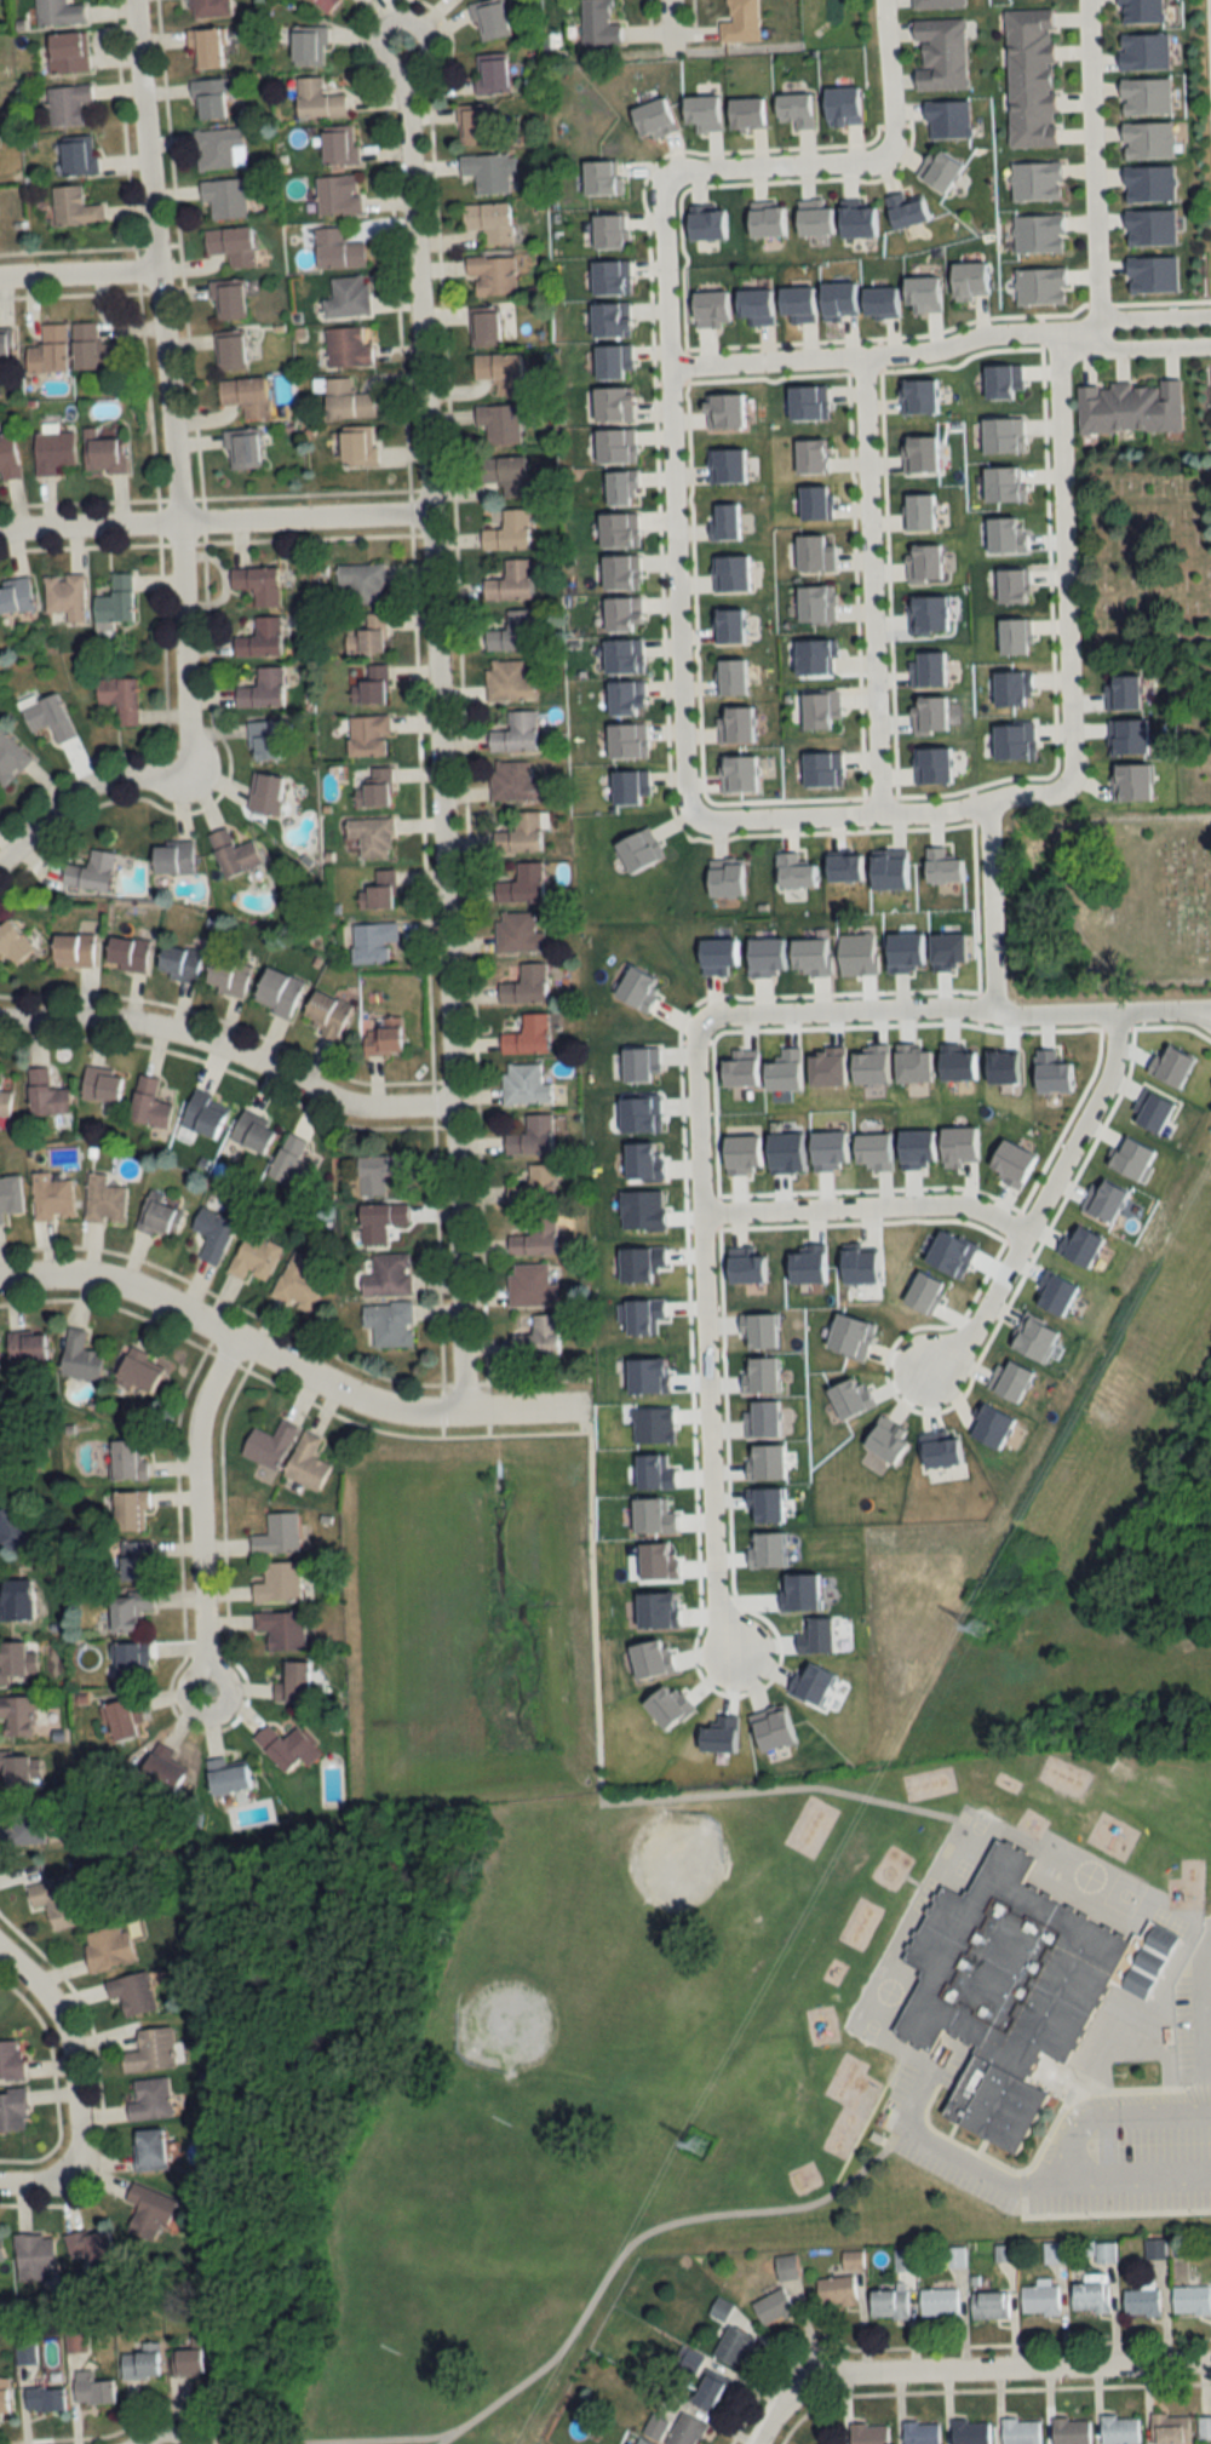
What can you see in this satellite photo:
building: (939, 4)
building: (325, 5)
building: (206, 8)
building: (56, 13)
building: (489, 21)
road: (679, 22)
building: (740, 22)
building: (597, 24)
building: (308, 46)
building: (203, 48)
building: (67, 53)
building: (940, 53)
road: (1209, 53)
building: (490, 74)
road: (890, 78)
building: (1029, 78)
building: (1146, 97)
building: (210, 98)
building: (316, 99)
building: (840, 101)
building: (65, 104)
building: (701, 109)
building: (748, 110)
building: (794, 110)
building: (654, 115)
building: (472, 124)
building: (1147, 139)
building: (338, 144)
building: (219, 149)
building: (78, 156)
road: (1094, 165)
road: (773, 168)
building: (488, 170)
building: (939, 170)
building: (603, 174)
building: (338, 194)
building: (224, 197)
building: (71, 206)
building: (905, 207)
building: (854, 216)
building: (764, 217)
building: (814, 218)
building: (489, 219)
building: (704, 222)
building: (608, 229)
building: (230, 245)
building: (337, 248)
road: (74, 272)
building: (490, 274)
building: (610, 275)
building: (970, 276)
building: (1038, 282)
building: (924, 289)
building: (836, 294)
building: (348, 297)
building: (877, 297)
building: (793, 298)
building: (226, 300)
building: (750, 300)
building: (707, 304)
building: (612, 316)
building: (483, 326)
building: (5, 343)
building: (348, 346)
building: (90, 348)
road: (940, 348)
building: (48, 349)
building: (229, 351)
building: (609, 358)
building: (499, 371)
building: (997, 378)
road: (162, 384)
building: (918, 391)
building: (245, 394)
building: (345, 398)
building: (805, 398)
building: (612, 401)
building: (1129, 406)
building: (728, 409)
building: (500, 421)
building: (1003, 432)
building: (614, 440)
building: (357, 446)
building: (242, 448)
building: (52, 451)
building: (103, 451)
building: (809, 452)
building: (918, 452)
building: (7, 455)
building: (729, 463)
building: (505, 472)
building: (619, 482)
building: (1000, 484)
building: (813, 499)
road: (673, 507)
building: (917, 507)
building: (727, 518)
road: (212, 522)
building: (619, 527)
building: (509, 530)
building: (815, 550)
road: (1062, 555)
building: (924, 560)
park: (1147, 561)
building: (620, 568)
building: (729, 568)
building: (510, 580)
building: (1009, 581)
building: (362, 583)
building: (257, 584)
road: (871, 584)
building: (15, 595)
building: (65, 596)
building: (115, 599)
building: (815, 602)
building: (620, 609)
building: (926, 612)
building: (728, 623)
building: (512, 631)
building: (366, 632)
building: (1012, 635)
building: (260, 638)
building: (622, 653)
building: (811, 655)
building: (928, 666)
building: (731, 676)
building: (507, 681)
building: (371, 685)
building: (1008, 685)
building: (263, 688)
building: (1120, 692)
building: (622, 694)
building: (119, 696)
building: (820, 707)
building: (930, 712)
building: (46, 715)
building: (736, 722)
road: (434, 724)
building: (515, 732)
building: (1125, 734)
building: (367, 735)
building: (626, 738)
building: (1012, 738)
building: (264, 739)
building: (10, 757)
building: (929, 762)
building: (820, 767)
building: (739, 771)
building: (1126, 778)
building: (511, 780)
building: (627, 784)
building: (372, 786)
road: (75, 788)
building: (265, 792)
road: (893, 811)
building: (520, 833)
building: (371, 836)
building: (638, 847)
building: (233, 853)
building: (172, 856)
building: (945, 864)
building: (840, 865)
building: (884, 865)
building: (792, 866)
building: (90, 871)
building: (723, 874)
building: (521, 884)
building: (378, 888)
park: (1114, 900)
road: (988, 920)
building: (517, 933)
building: (371, 941)
building: (12, 942)
building: (900, 947)
building: (711, 948)
building: (805, 948)
building: (71, 950)
building: (759, 952)
building: (126, 953)
building: (177, 962)
building: (226, 976)
building: (635, 982)
building: (522, 983)
building: (276, 991)
road: (848, 1009)
road: (1115, 1011)
building: (323, 1012)
building: (527, 1035)
building: (383, 1037)
road: (229, 1045)
building: (639, 1060)
building: (737, 1065)
building: (1049, 1069)
building: (101, 1084)
building: (523, 1084)
building: (45, 1094)
building: (5, 1102)
building: (148, 1102)
building: (1157, 1109)
building: (638, 1111)
building: (201, 1113)
road: (694, 1114)
building: (252, 1131)
building: (530, 1136)
building: (954, 1140)
building: (1130, 1154)
building: (1009, 1158)
building: (289, 1163)
building: (377, 1172)
building: (533, 1187)
building: (10, 1195)
building: (51, 1197)
building: (1104, 1197)
building: (103, 1199)
road: (1037, 1203)
road: (862, 1207)
building: (157, 1216)
building: (380, 1221)
building: (212, 1234)
building: (534, 1237)
building: (1078, 1240)
building: (945, 1246)
building: (254, 1257)
building: (855, 1263)
building: (803, 1264)
building: (742, 1267)
building: (389, 1275)
building: (298, 1283)
building: (530, 1285)
building: (918, 1290)
building: (1055, 1290)
building: (389, 1323)
building: (761, 1329)
building: (849, 1331)
building: (1032, 1335)
building: (536, 1336)
building: (27, 1346)
building: (79, 1355)
road: (287, 1358)
building: (136, 1369)
building: (1011, 1379)
building: (851, 1396)
building: (763, 1416)
building: (992, 1419)
road: (707, 1434)
building: (884, 1438)
building: (269, 1445)
building: (937, 1448)
building: (127, 1458)
building: (306, 1463)
road: (197, 1509)
building: (130, 1510)
building: (11, 1528)
building: (277, 1534)
building: (134, 1561)
building: (277, 1583)
building: (15, 1600)
building: (127, 1610)
power tower: (978, 1627)
building: (280, 1630)
building: (15, 1660)
building: (130, 1663)
building: (811, 1680)
building: (289, 1681)
building: (17, 1716)
building: (121, 1719)
building: (771, 1725)
building: (285, 1746)
building: (162, 1768)
building: (15, 1771)
building: (226, 1775)
road: (598, 1791)
building: (21, 1824)
building: (57, 1901)
building: (105, 1947)
building: (1014, 1986)
building: (131, 1993)
road: (1201, 2019)
road: (1137, 2032)
road: (70, 2039)
building: (149, 2052)
building: (10, 2060)
building: (149, 2100)
building: (12, 2110)
power tower: (698, 2145)
road: (948, 2148)
road: (1071, 2148)
building: (148, 2151)
road: (38, 2179)
building: (149, 2209)
road: (641, 2233)
building: (91, 2248)
building: (0, 2249)
building: (33, 2256)
building: (851, 2260)
building: (785, 2267)
building: (836, 2291)
building: (1089, 2297)
building: (1039, 2299)
building: (1190, 2300)
building: (1141, 2301)
building: (939, 2304)
building: (888, 2305)
building: (989, 2305)
building: (771, 2307)
building: (731, 2346)
building: (190, 2359)
building: (140, 2363)
road: (1011, 2365)
building: (91, 2390)
building: (708, 2391)
building: (4, 2398)
building: (42, 2399)
road: (780, 2404)
building: (654, 2427)
building: (1170, 2428)
building: (1204, 2428)
road: (163, 2429)
building: (684, 2431)
building: (1069, 2431)
building: (1119, 2431)
building: (970, 2432)
building: (1020, 2432)
building: (920, 2433)
building: (868, 2434)
road: (362, 2439)
building: (642, 2442)

